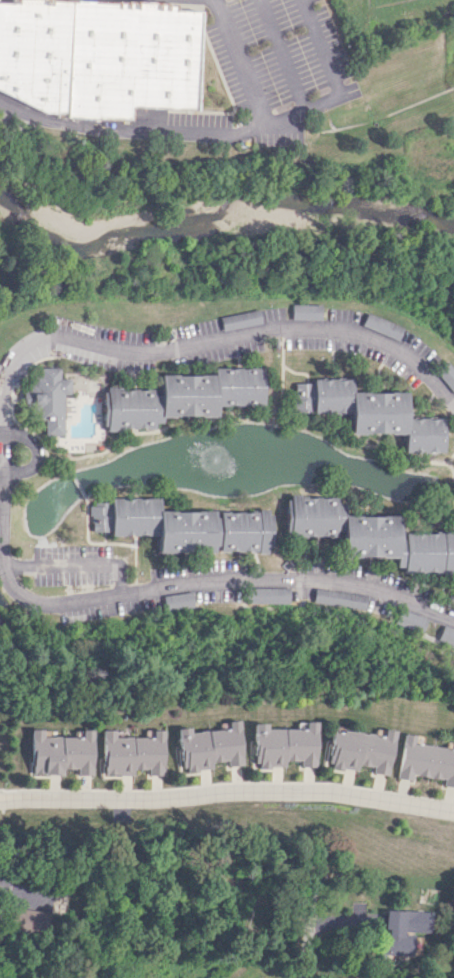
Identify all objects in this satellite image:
road: (282, 54)
building: (97, 56)
road: (238, 65)
road: (229, 129)
building: (304, 311)
building: (239, 319)
building: (380, 326)
road: (189, 351)
building: (445, 375)
building: (180, 397)
building: (49, 399)
building: (368, 412)
road: (0, 430)
road: (39, 450)
road: (0, 468)
building: (182, 526)
building: (369, 534)
road: (172, 590)
building: (267, 596)
building: (340, 598)
building: (178, 600)
building: (411, 621)
building: (446, 635)
building: (281, 745)
building: (207, 746)
building: (357, 750)
building: (59, 753)
building: (130, 753)
building: (424, 761)
road: (227, 782)
road: (227, 791)
building: (30, 920)
building: (398, 930)
road: (308, 936)

